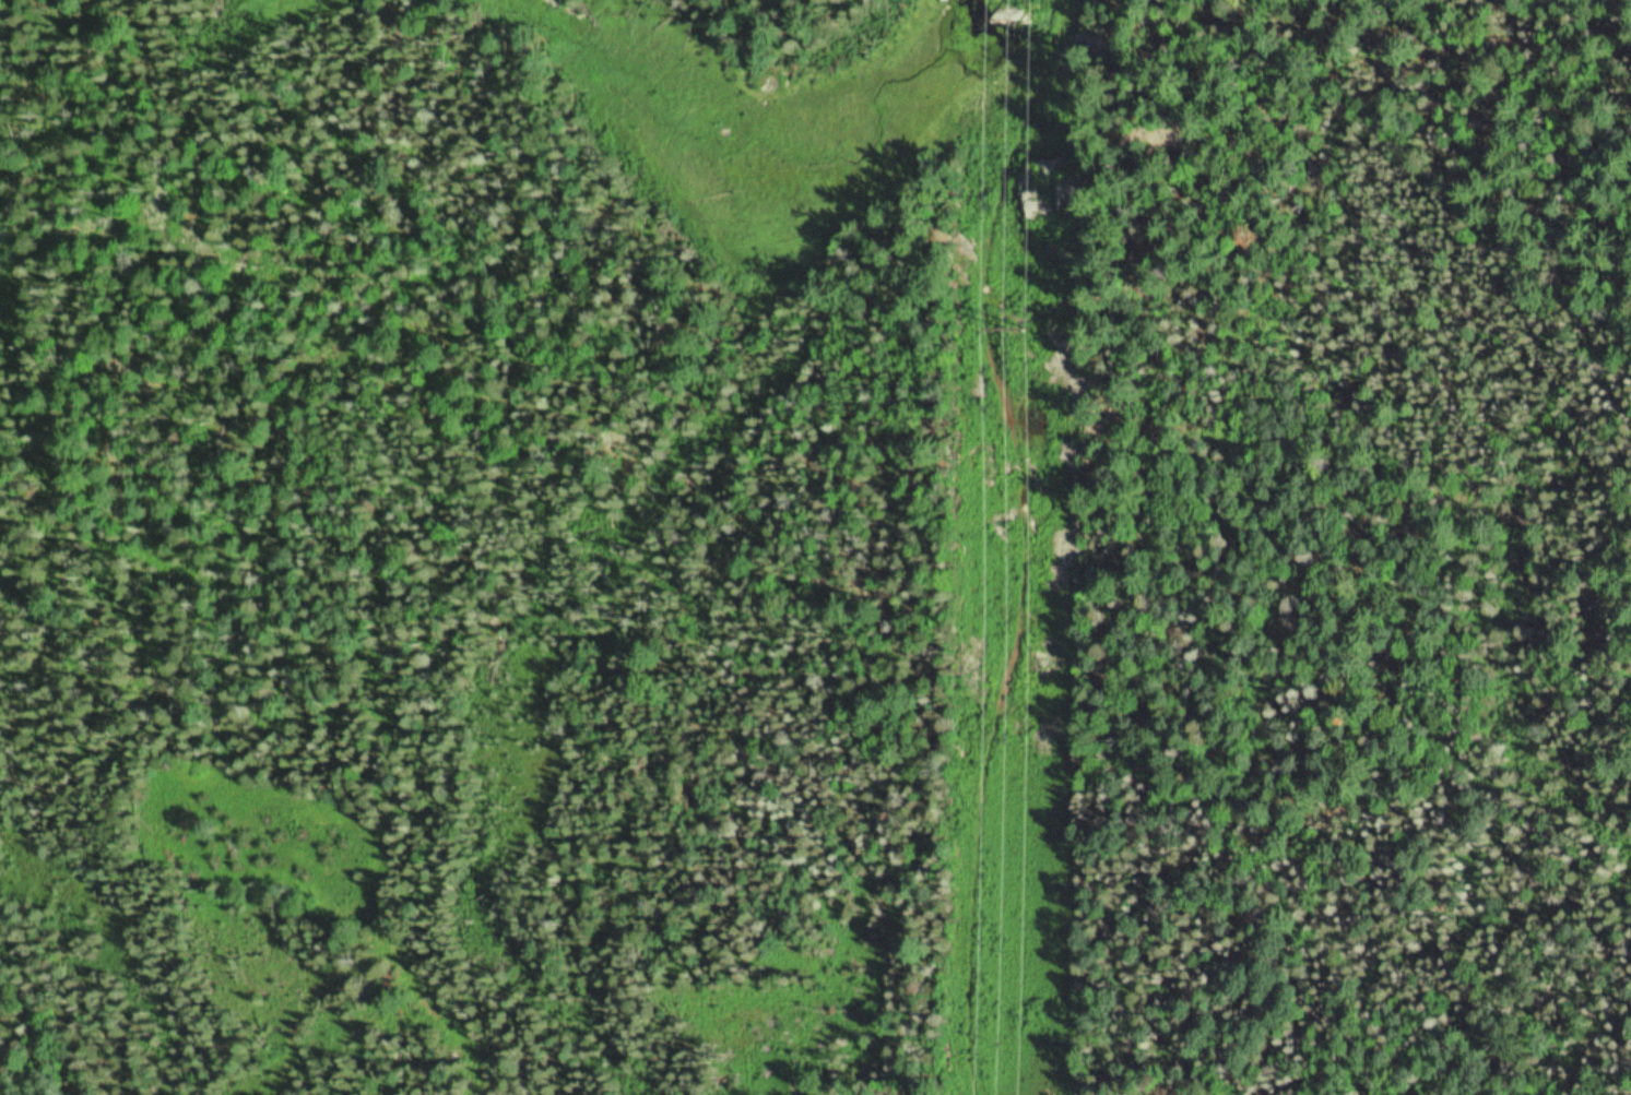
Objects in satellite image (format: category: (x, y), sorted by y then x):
power tower: (1029, 321)
road: (492, 1079)

